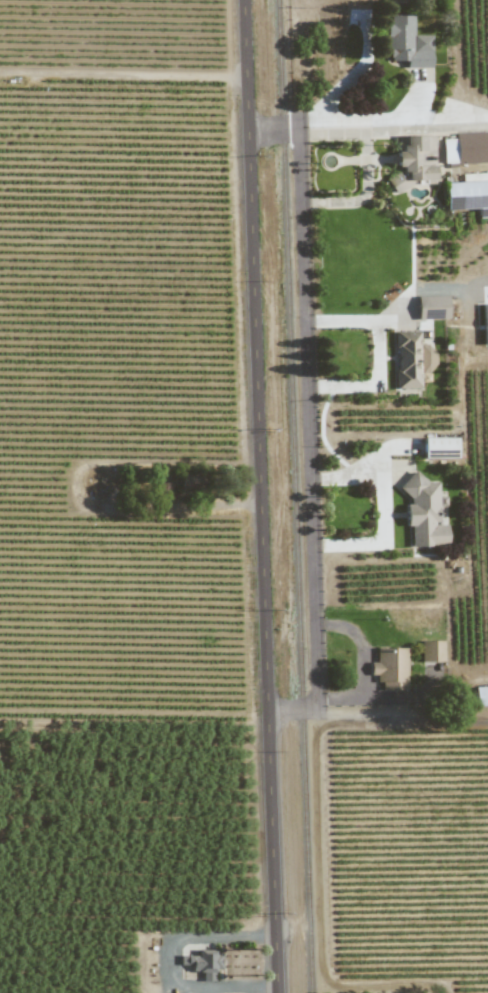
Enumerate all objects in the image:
building: (406, 42)
road: (361, 116)
building: (471, 147)
building: (448, 150)
building: (414, 162)
building: (468, 192)
road: (413, 292)
building: (431, 306)
building: (484, 322)
road: (376, 348)
building: (411, 358)
road: (306, 414)
building: (438, 447)
building: (184, 481)
road: (263, 496)
road: (183, 501)
building: (423, 512)
building: (431, 650)
building: (389, 668)
building: (480, 695)
building: (204, 962)

